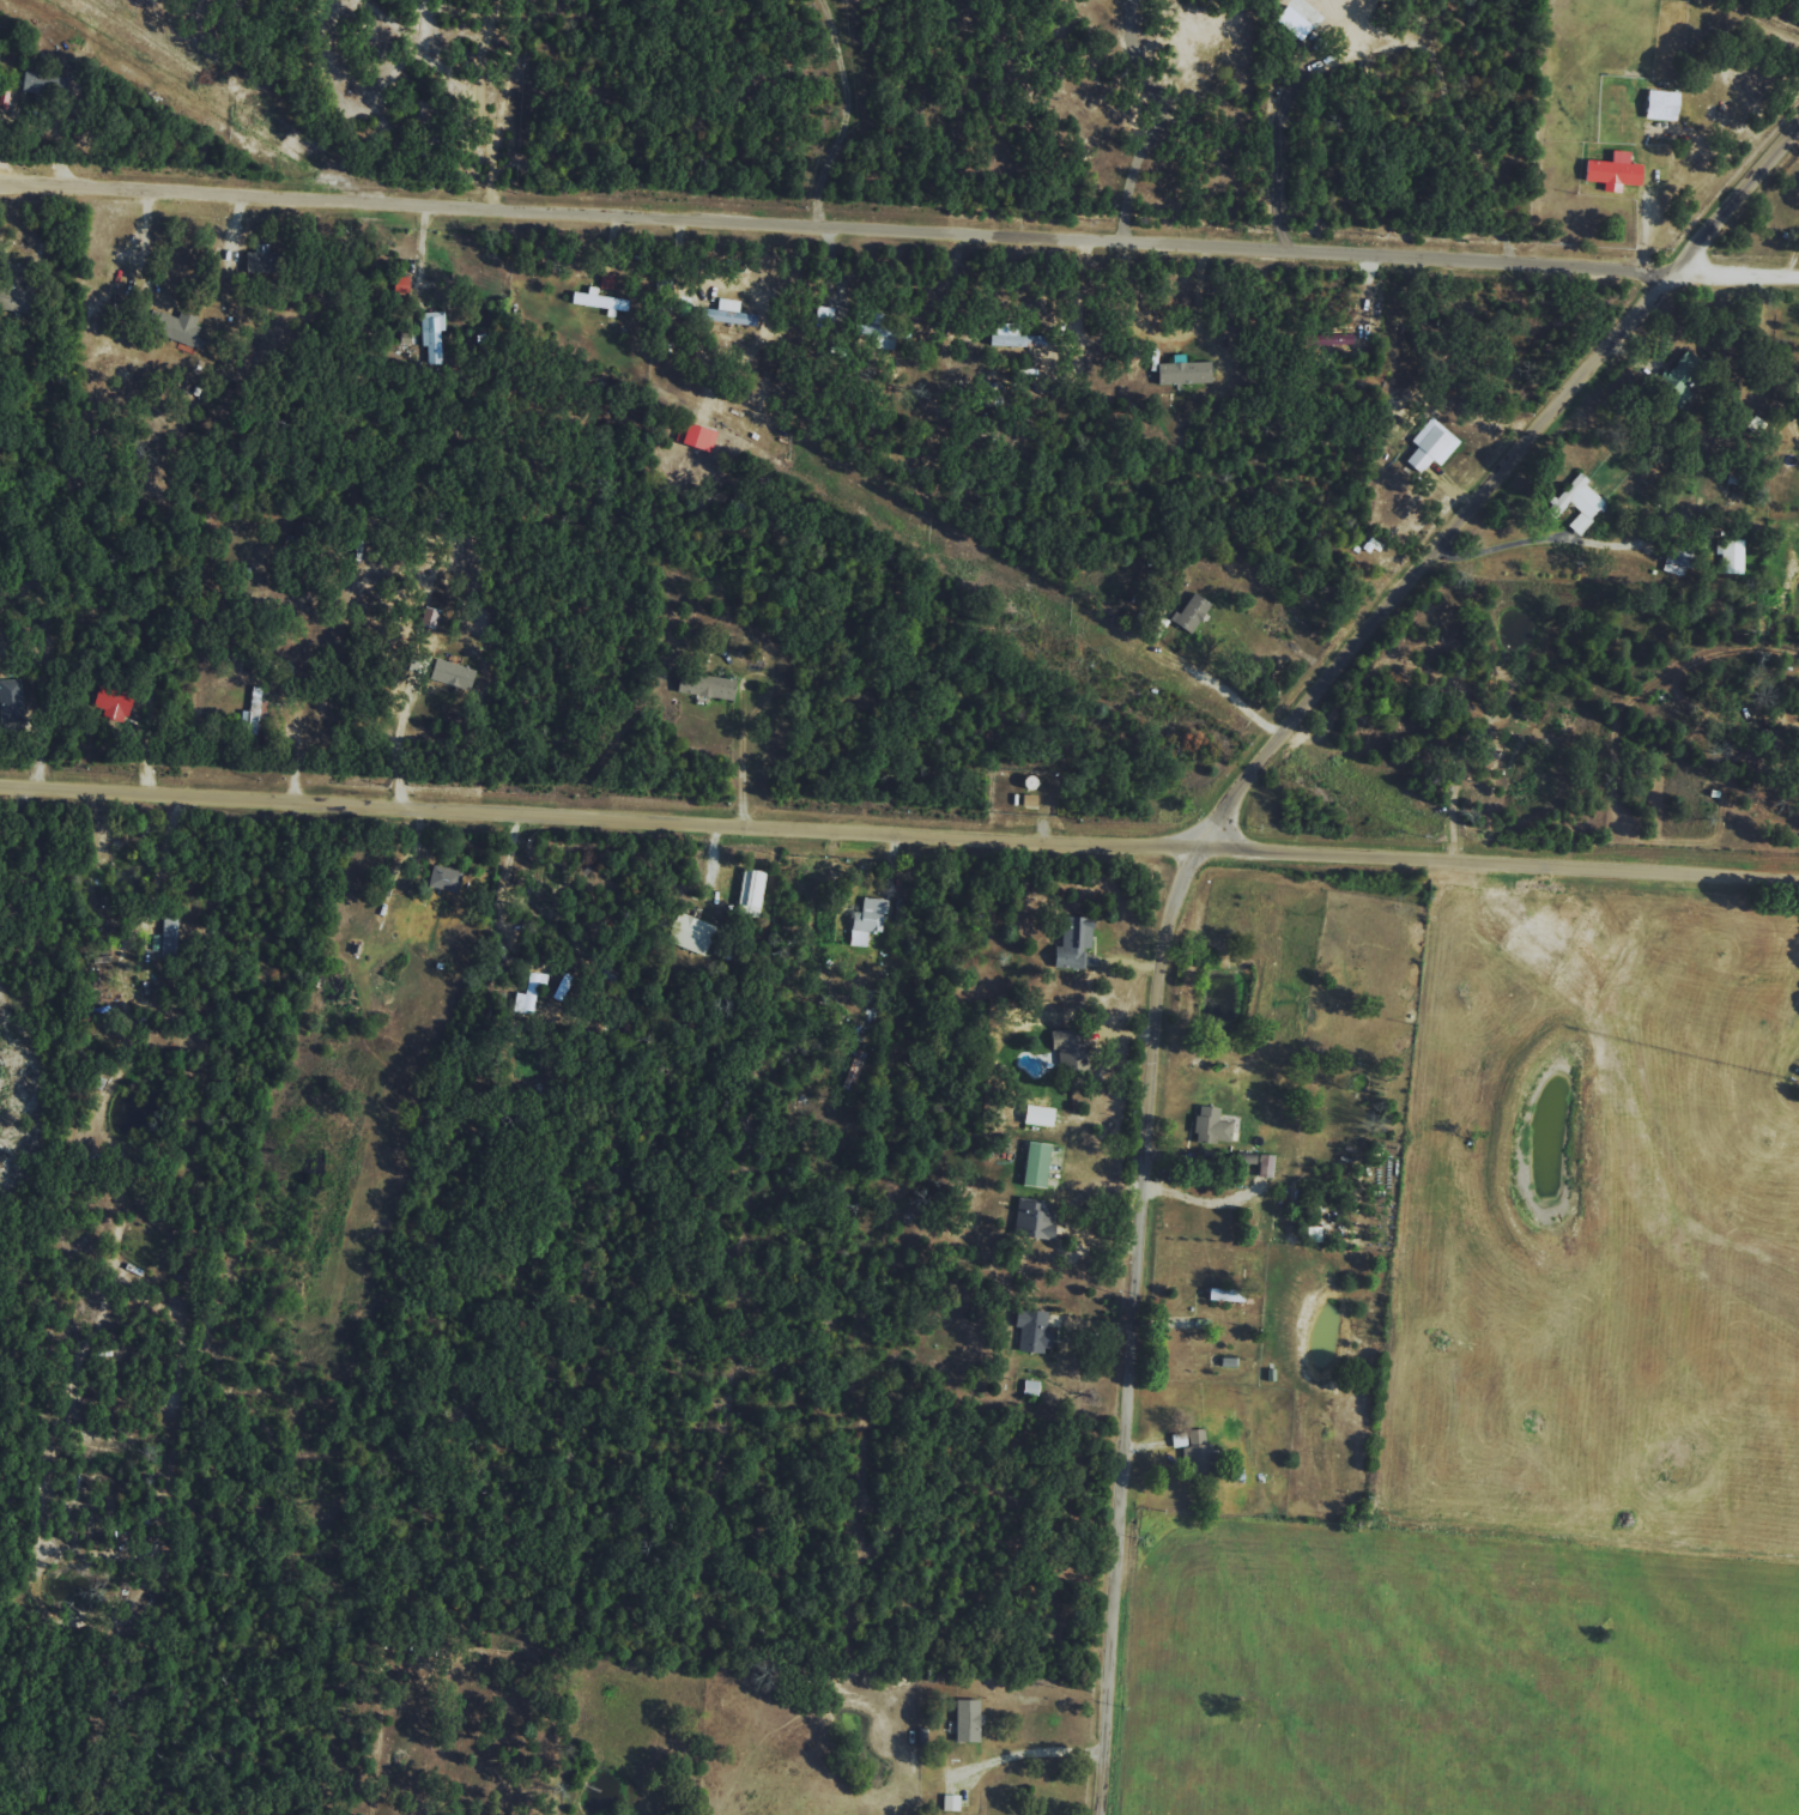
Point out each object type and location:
building: (1289, 23)
building: (38, 83)
road: (481, 103)
building: (1658, 105)
road: (1276, 158)
building: (1611, 171)
road: (835, 235)
road: (141, 254)
building: (258, 260)
road: (1734, 274)
building: (398, 284)
building: (16, 297)
building: (594, 301)
building: (180, 327)
building: (872, 328)
building: (430, 335)
building: (1012, 337)
building: (1180, 371)
building: (1679, 375)
building: (692, 437)
building: (1432, 442)
road: (1501, 480)
building: (1575, 503)
road: (1501, 552)
building: (1678, 558)
building: (1188, 612)
building: (431, 616)
building: (454, 673)
building: (703, 684)
road: (1223, 691)
building: (11, 701)
building: (115, 703)
building: (253, 712)
road: (740, 760)
building: (1028, 800)
road: (898, 831)
road: (159, 860)
building: (447, 878)
building: (749, 888)
building: (865, 919)
building: (689, 933)
road: (818, 934)
building: (168, 936)
building: (1071, 943)
building: (559, 986)
building: (527, 996)
building: (1068, 1051)
building: (1209, 1126)
building: (1032, 1163)
building: (1031, 1220)
building: (1313, 1234)
road: (1143, 1324)
building: (1030, 1330)
building: (1029, 1387)
building: (1193, 1446)
building: (964, 1720)
road: (1050, 1754)
building: (949, 1803)

